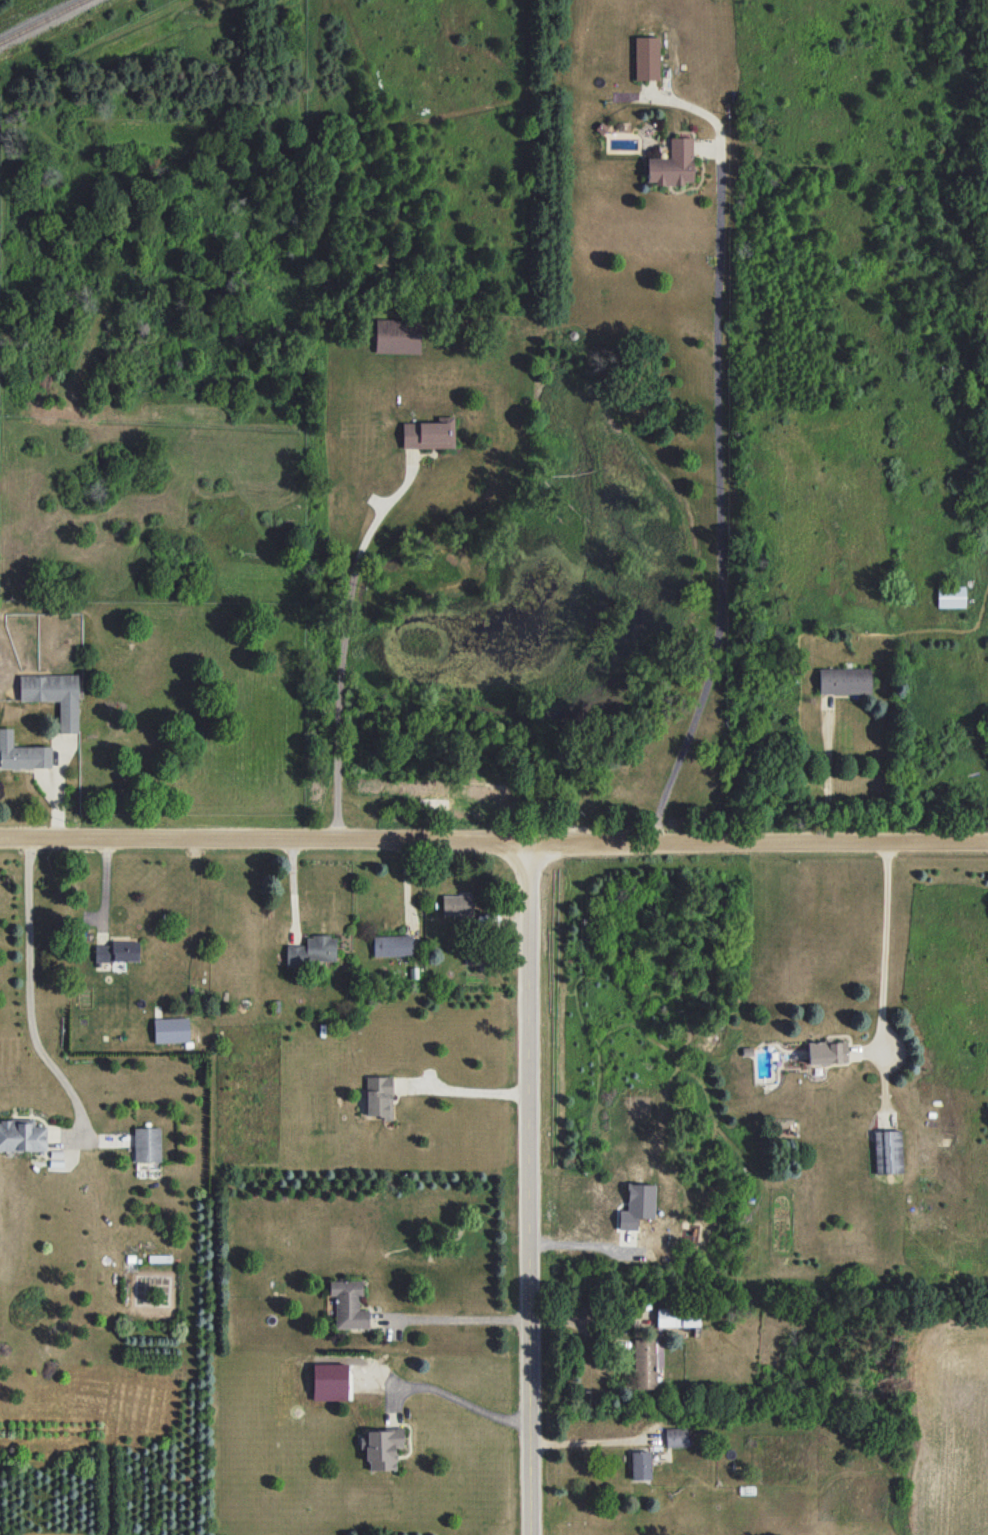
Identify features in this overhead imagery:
railway: (38, 20)
building: (646, 58)
building: (672, 164)
building: (398, 336)
building: (429, 434)
road: (720, 498)
building: (950, 597)
road: (343, 638)
building: (844, 681)
building: (54, 696)
building: (22, 753)
road: (825, 771)
road: (493, 844)
building: (456, 904)
building: (392, 945)
building: (311, 951)
building: (117, 952)
road: (885, 953)
road: (28, 998)
building: (171, 1030)
building: (827, 1052)
road: (466, 1090)
building: (379, 1096)
building: (22, 1135)
building: (147, 1144)
building: (888, 1152)
road: (533, 1190)
building: (637, 1205)
road: (590, 1246)
building: (348, 1304)
building: (677, 1317)
road: (460, 1318)
road: (581, 1325)
building: (648, 1363)
road: (449, 1395)
building: (676, 1437)
road: (592, 1439)
building: (381, 1448)
building: (640, 1465)

